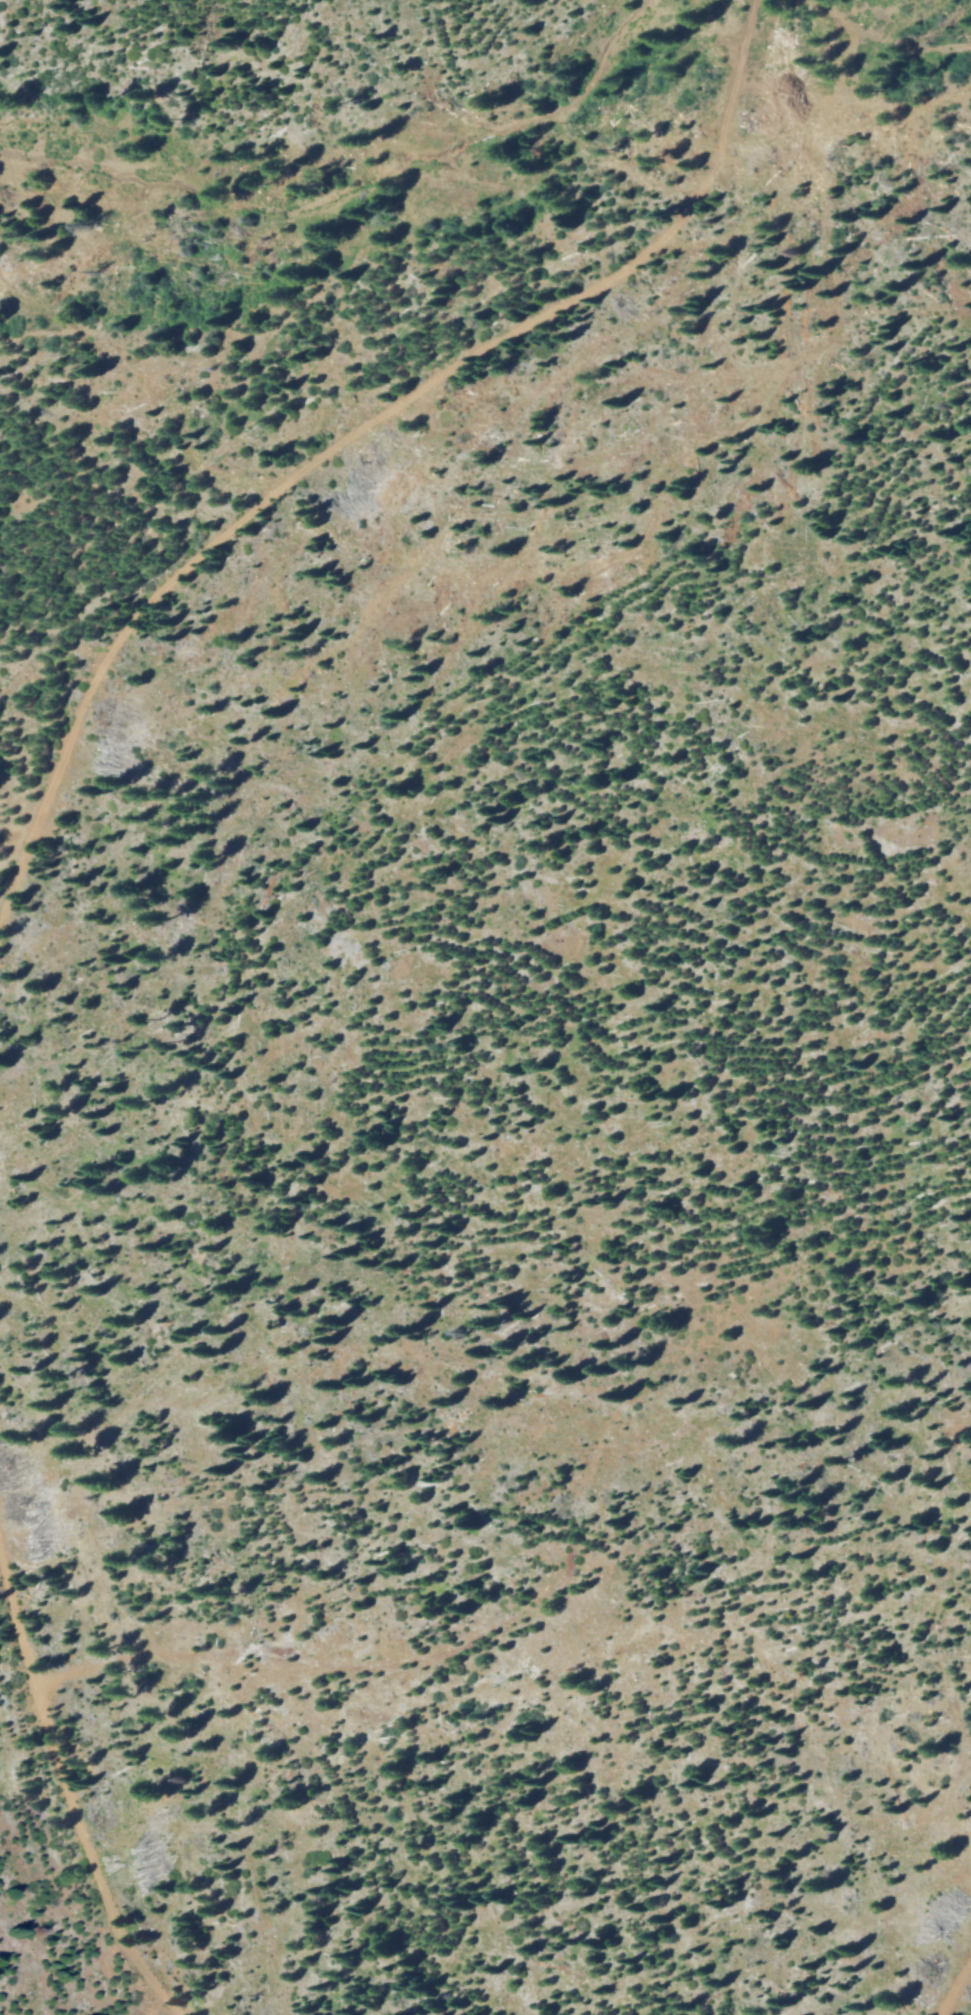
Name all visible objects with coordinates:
road: (358, 425)
road: (65, 1790)

